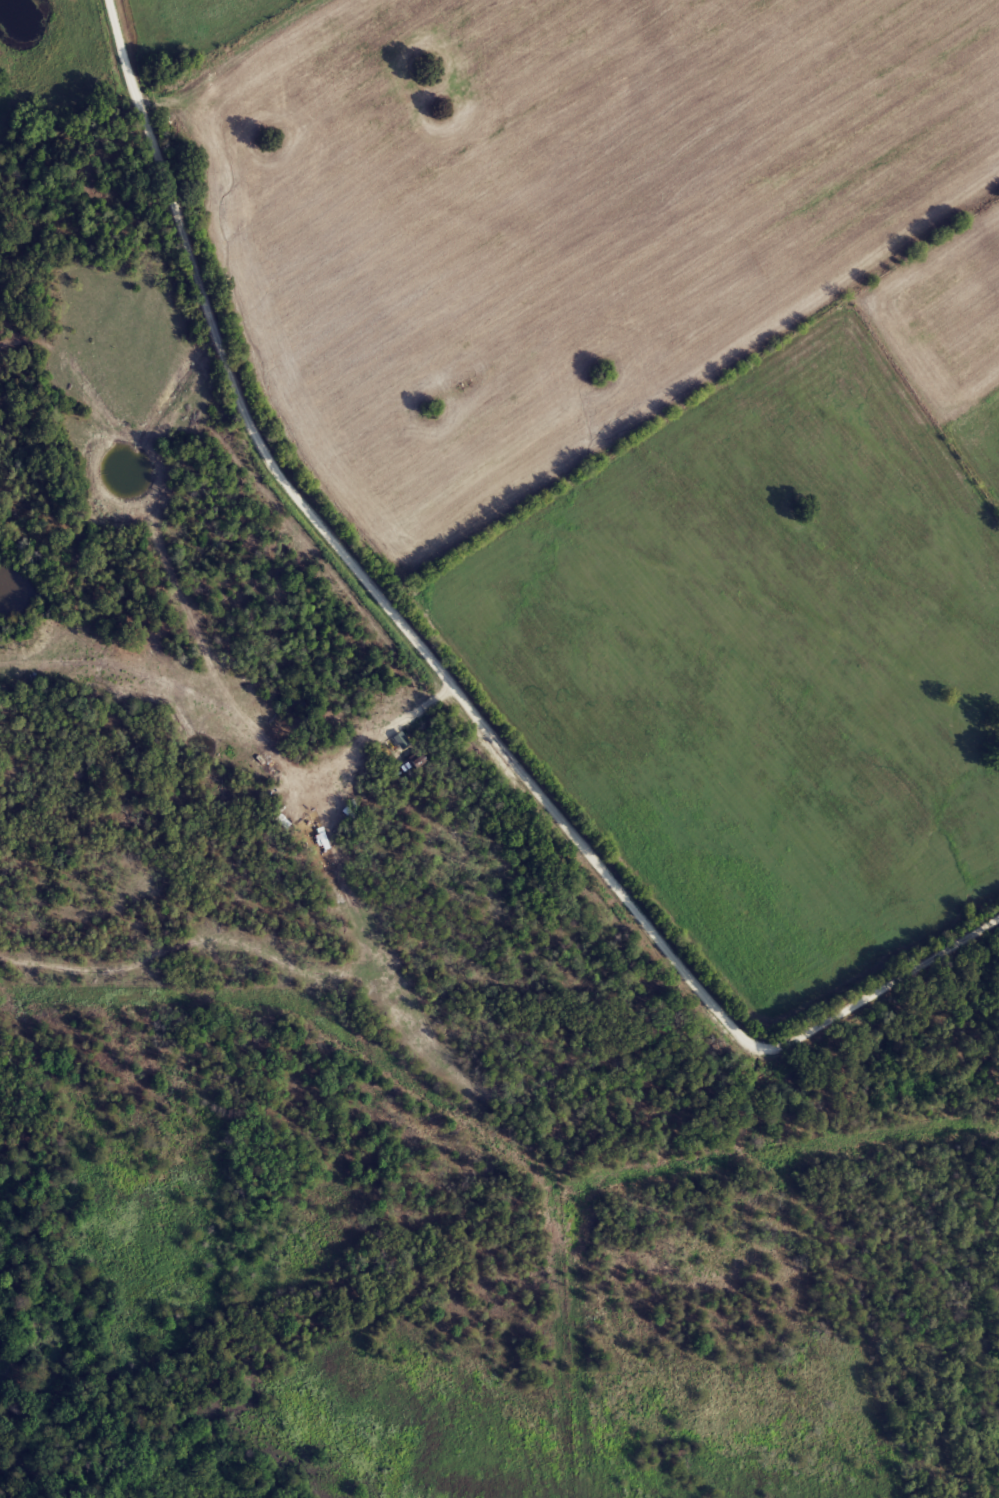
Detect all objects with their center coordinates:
road: (221, 51)
road: (360, 568)
road: (880, 984)

